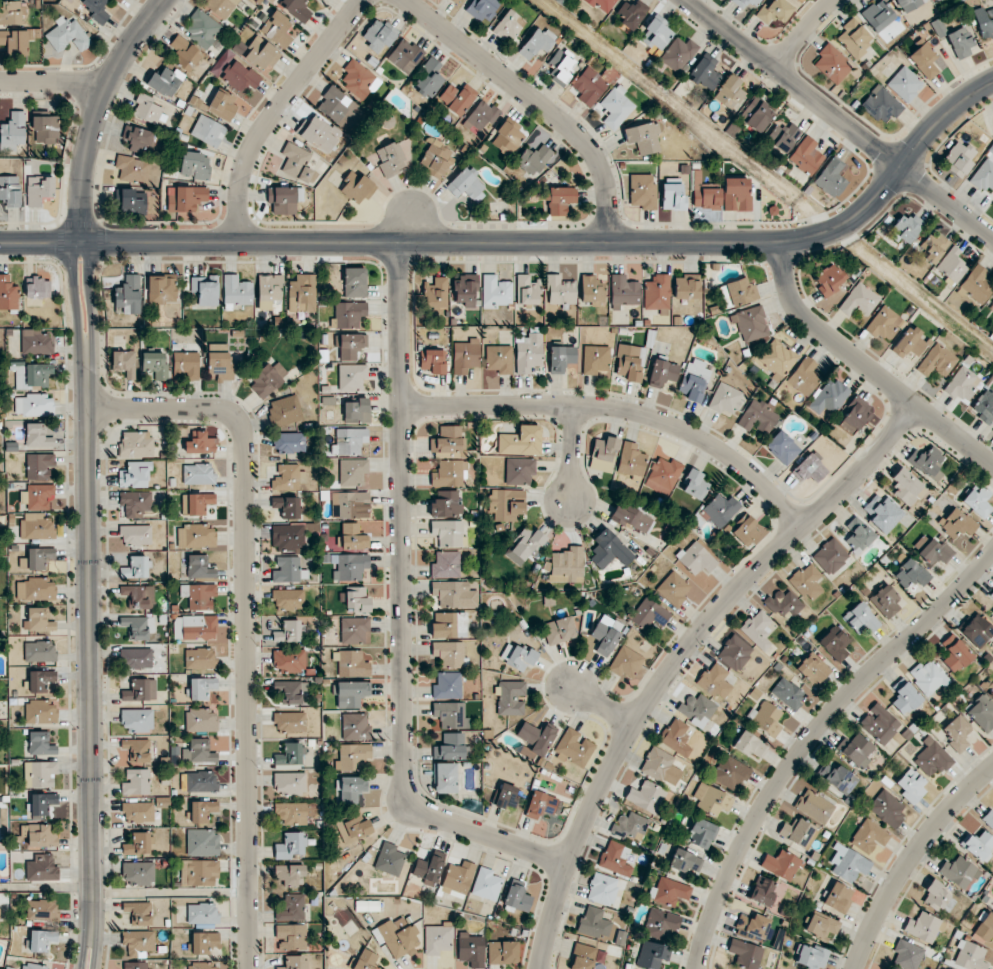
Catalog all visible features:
building: (119, 0)
building: (455, 1)
building: (745, 2)
building: (601, 4)
building: (909, 4)
building: (220, 7)
building: (95, 8)
building: (296, 9)
building: (482, 9)
building: (12, 11)
building: (774, 11)
building: (631, 13)
building: (878, 15)
building: (984, 22)
building: (508, 25)
building: (203, 28)
building: (277, 29)
road: (803, 33)
building: (656, 34)
building: (67, 35)
building: (378, 35)
building: (855, 37)
building: (15, 41)
building: (536, 42)
building: (960, 42)
building: (184, 52)
building: (261, 53)
building: (678, 54)
building: (405, 55)
building: (924, 60)
building: (832, 63)
building: (561, 64)
building: (705, 72)
building: (239, 76)
building: (358, 78)
building: (429, 79)
road: (53, 81)
building: (165, 81)
building: (905, 84)
building: (589, 85)
building: (729, 91)
building: (457, 98)
road: (537, 102)
building: (334, 103)
building: (222, 104)
building: (881, 105)
building: (616, 107)
building: (147, 109)
road: (277, 111)
building: (756, 114)
building: (481, 115)
road: (839, 119)
building: (13, 129)
building: (45, 129)
building: (208, 130)
building: (318, 133)
building: (507, 137)
building: (643, 137)
building: (783, 137)
building: (139, 138)
building: (806, 155)
building: (959, 158)
building: (391, 159)
building: (436, 159)
building: (533, 159)
building: (296, 162)
building: (195, 165)
building: (133, 168)
building: (983, 175)
building: (831, 177)
building: (466, 185)
building: (356, 186)
building: (40, 189)
building: (10, 190)
building: (642, 190)
building: (736, 194)
building: (704, 196)
building: (673, 197)
building: (187, 198)
building: (284, 198)
building: (559, 200)
building: (131, 201)
road: (526, 242)
building: (933, 247)
building: (829, 279)
building: (355, 282)
building: (977, 284)
building: (687, 287)
building: (39, 288)
building: (161, 289)
building: (205, 289)
building: (269, 290)
building: (466, 290)
building: (527, 290)
building: (560, 290)
building: (236, 291)
building: (591, 291)
building: (623, 291)
building: (436, 292)
building: (496, 292)
building: (657, 292)
building: (738, 292)
building: (8, 293)
building: (302, 293)
building: (127, 295)
building: (859, 300)
building: (992, 306)
building: (348, 314)
building: (750, 323)
building: (884, 323)
building: (35, 342)
building: (910, 342)
building: (351, 345)
building: (528, 353)
building: (465, 356)
building: (560, 358)
building: (499, 359)
building: (777, 359)
building: (595, 360)
building: (220, 361)
building: (432, 361)
building: (937, 361)
building: (125, 362)
building: (630, 362)
building: (187, 363)
building: (155, 364)
road: (866, 367)
building: (662, 373)
building: (804, 376)
building: (352, 377)
building: (268, 378)
building: (695, 380)
building: (963, 383)
building: (829, 396)
building: (725, 399)
building: (34, 404)
building: (984, 405)
road: (621, 409)
building: (284, 410)
building: (357, 410)
building: (855, 415)
building: (758, 417)
building: (37, 435)
building: (349, 441)
building: (521, 441)
building: (290, 442)
building: (449, 442)
building: (200, 443)
building: (136, 444)
building: (782, 447)
building: (605, 451)
road: (572, 453)
building: (927, 462)
building: (39, 466)
building: (628, 466)
building: (809, 469)
building: (519, 470)
building: (353, 471)
building: (449, 473)
road: (88, 474)
building: (198, 474)
building: (135, 475)
building: (662, 475)
building: (288, 477)
building: (694, 484)
building: (906, 485)
building: (38, 497)
building: (977, 501)
building: (136, 502)
building: (198, 502)
building: (504, 503)
building: (350, 504)
building: (445, 504)
building: (287, 506)
building: (718, 510)
building: (883, 513)
building: (631, 517)
building: (956, 523)
building: (36, 526)
building: (745, 530)
building: (447, 532)
building: (136, 534)
building: (858, 535)
building: (196, 536)
building: (291, 536)
building: (351, 538)
building: (524, 545)
building: (608, 549)
building: (39, 557)
building: (830, 557)
building: (696, 558)
building: (446, 564)
building: (567, 565)
building: (199, 566)
building: (350, 566)
building: (137, 567)
building: (289, 569)
building: (910, 574)
building: (807, 582)
building: (673, 588)
building: (36, 589)
building: (454, 594)
building: (198, 595)
building: (991, 595)
building: (139, 596)
building: (288, 598)
building: (356, 599)
building: (885, 601)
building: (783, 604)
road: (402, 608)
building: (992, 613)
building: (649, 615)
road: (246, 617)
building: (861, 618)
building: (38, 620)
building: (448, 624)
building: (138, 627)
building: (195, 627)
building: (758, 629)
building: (355, 630)
building: (559, 630)
building: (976, 630)
building: (288, 631)
building: (606, 636)
building: (834, 643)
building: (39, 651)
building: (734, 652)
building: (449, 653)
building: (955, 653)
building: (517, 656)
road: (682, 657)
building: (136, 658)
building: (199, 658)
building: (289, 660)
building: (625, 662)
building: (351, 663)
building: (813, 669)
building: (928, 677)
building: (40, 679)
building: (715, 681)
building: (447, 685)
building: (991, 685)
building: (202, 687)
building: (140, 690)
building: (291, 690)
building: (351, 693)
building: (788, 693)
building: (511, 697)
building: (904, 697)
road: (604, 705)
building: (697, 707)
building: (41, 712)
building: (982, 712)
building: (450, 715)
building: (766, 718)
building: (137, 719)
building: (201, 720)
building: (290, 721)
building: (879, 723)
building: (355, 726)
building: (957, 732)
building: (536, 737)
building: (676, 737)
road: (810, 737)
building: (41, 743)
building: (749, 744)
building: (451, 747)
building: (574, 747)
building: (856, 749)
building: (137, 750)
building: (198, 751)
building: (291, 754)
building: (352, 756)
building: (931, 758)
building: (661, 766)
building: (40, 773)
building: (731, 773)
building: (837, 777)
building: (444, 778)
building: (201, 781)
building: (136, 782)
building: (290, 783)
building: (911, 784)
building: (352, 789)
building: (506, 796)
building: (646, 796)
building: (711, 799)
building: (42, 803)
building: (540, 804)
building: (815, 806)
building: (887, 808)
building: (202, 810)
building: (138, 811)
building: (290, 813)
building: (988, 818)
building: (630, 825)
building: (353, 827)
building: (798, 832)
building: (701, 833)
building: (41, 835)
building: (869, 836)
building: (202, 842)
building: (138, 844)
building: (290, 845)
building: (978, 845)
building: (616, 858)
building: (389, 859)
road: (910, 859)
building: (685, 862)
building: (849, 863)
building: (781, 864)
building: (42, 868)
building: (428, 869)
building: (959, 871)
building: (138, 872)
building: (199, 872)
building: (290, 874)
building: (457, 879)
building: (486, 884)
building: (602, 888)
building: (669, 891)
building: (763, 891)
building: (838, 897)
building: (938, 897)
building: (517, 898)
building: (291, 907)
building: (41, 909)
building: (138, 912)
building: (202, 913)
building: (593, 922)
building: (661, 923)
building: (822, 925)
building: (923, 927)
building: (985, 927)
building: (753, 928)
building: (291, 936)
building: (397, 936)
building: (437, 939)
building: (41, 940)
building: (204, 942)
building: (139, 943)
building: (470, 949)
building: (502, 952)
building: (745, 954)
building: (652, 955)
building: (907, 955)
building: (811, 956)
building: (970, 956)
building: (586, 957)
building: (365, 959)
building: (294, 962)
building: (135, 965)
building: (34, 966)
building: (203, 966)

